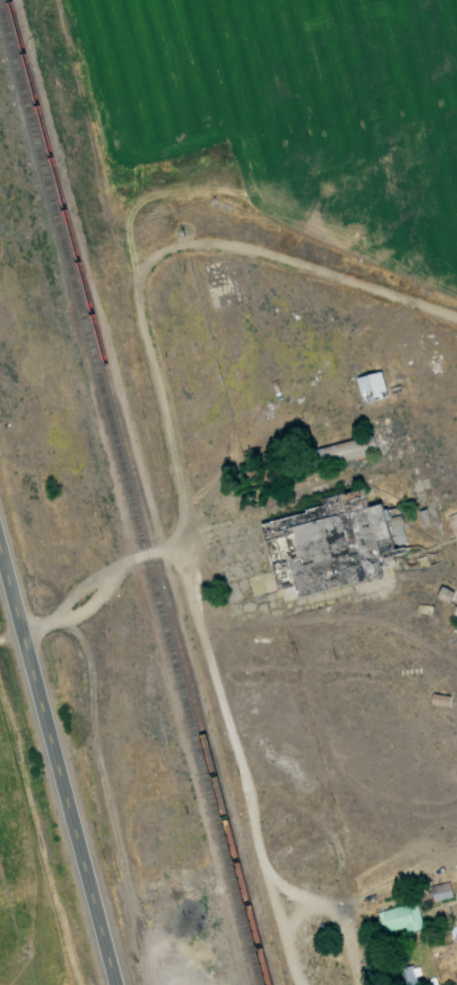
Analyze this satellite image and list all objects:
road: (161, 254)
building: (369, 386)
building: (342, 450)
railway: (137, 492)
railway: (128, 499)
building: (453, 525)
building: (330, 543)
road: (125, 567)
road: (233, 765)
road: (57, 776)
road: (325, 914)
building: (398, 918)

